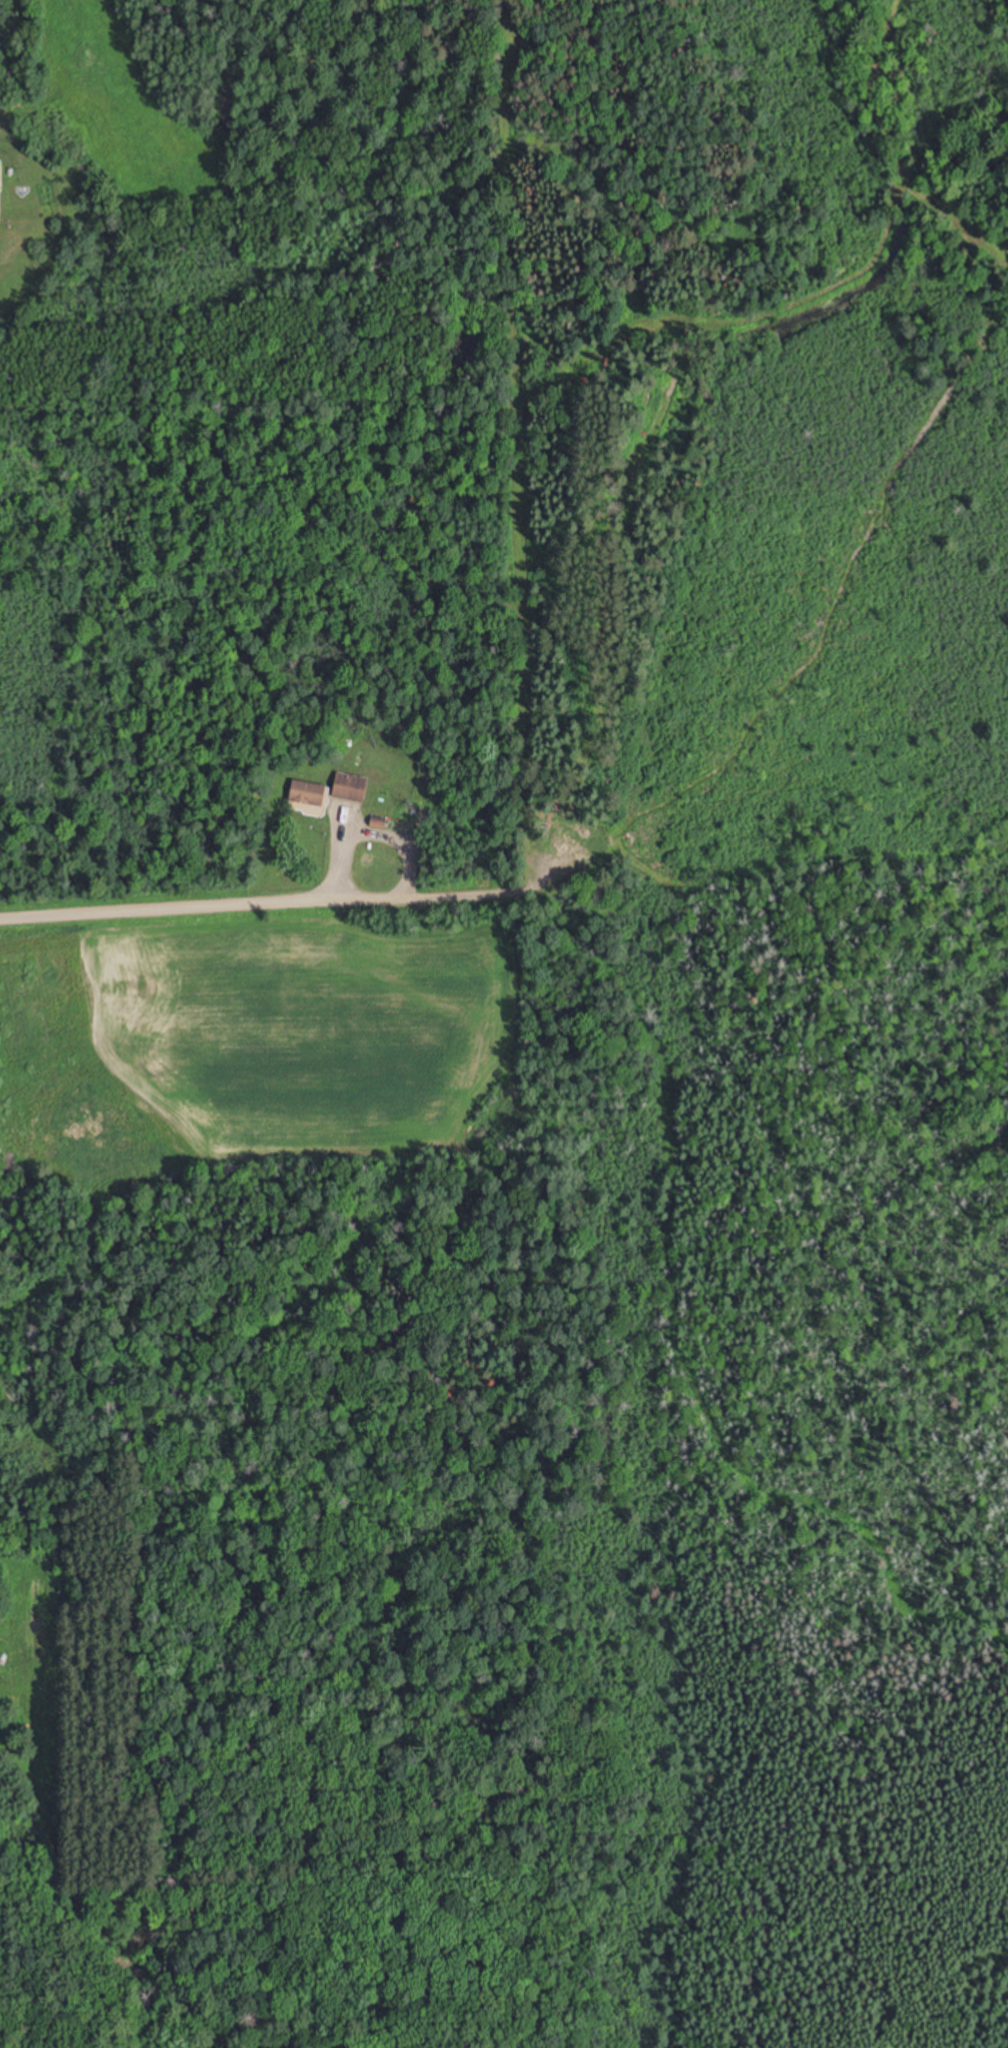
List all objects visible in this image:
building: (0, 188)
road: (492, 442)
building: (352, 787)
building: (308, 794)
road: (245, 895)

